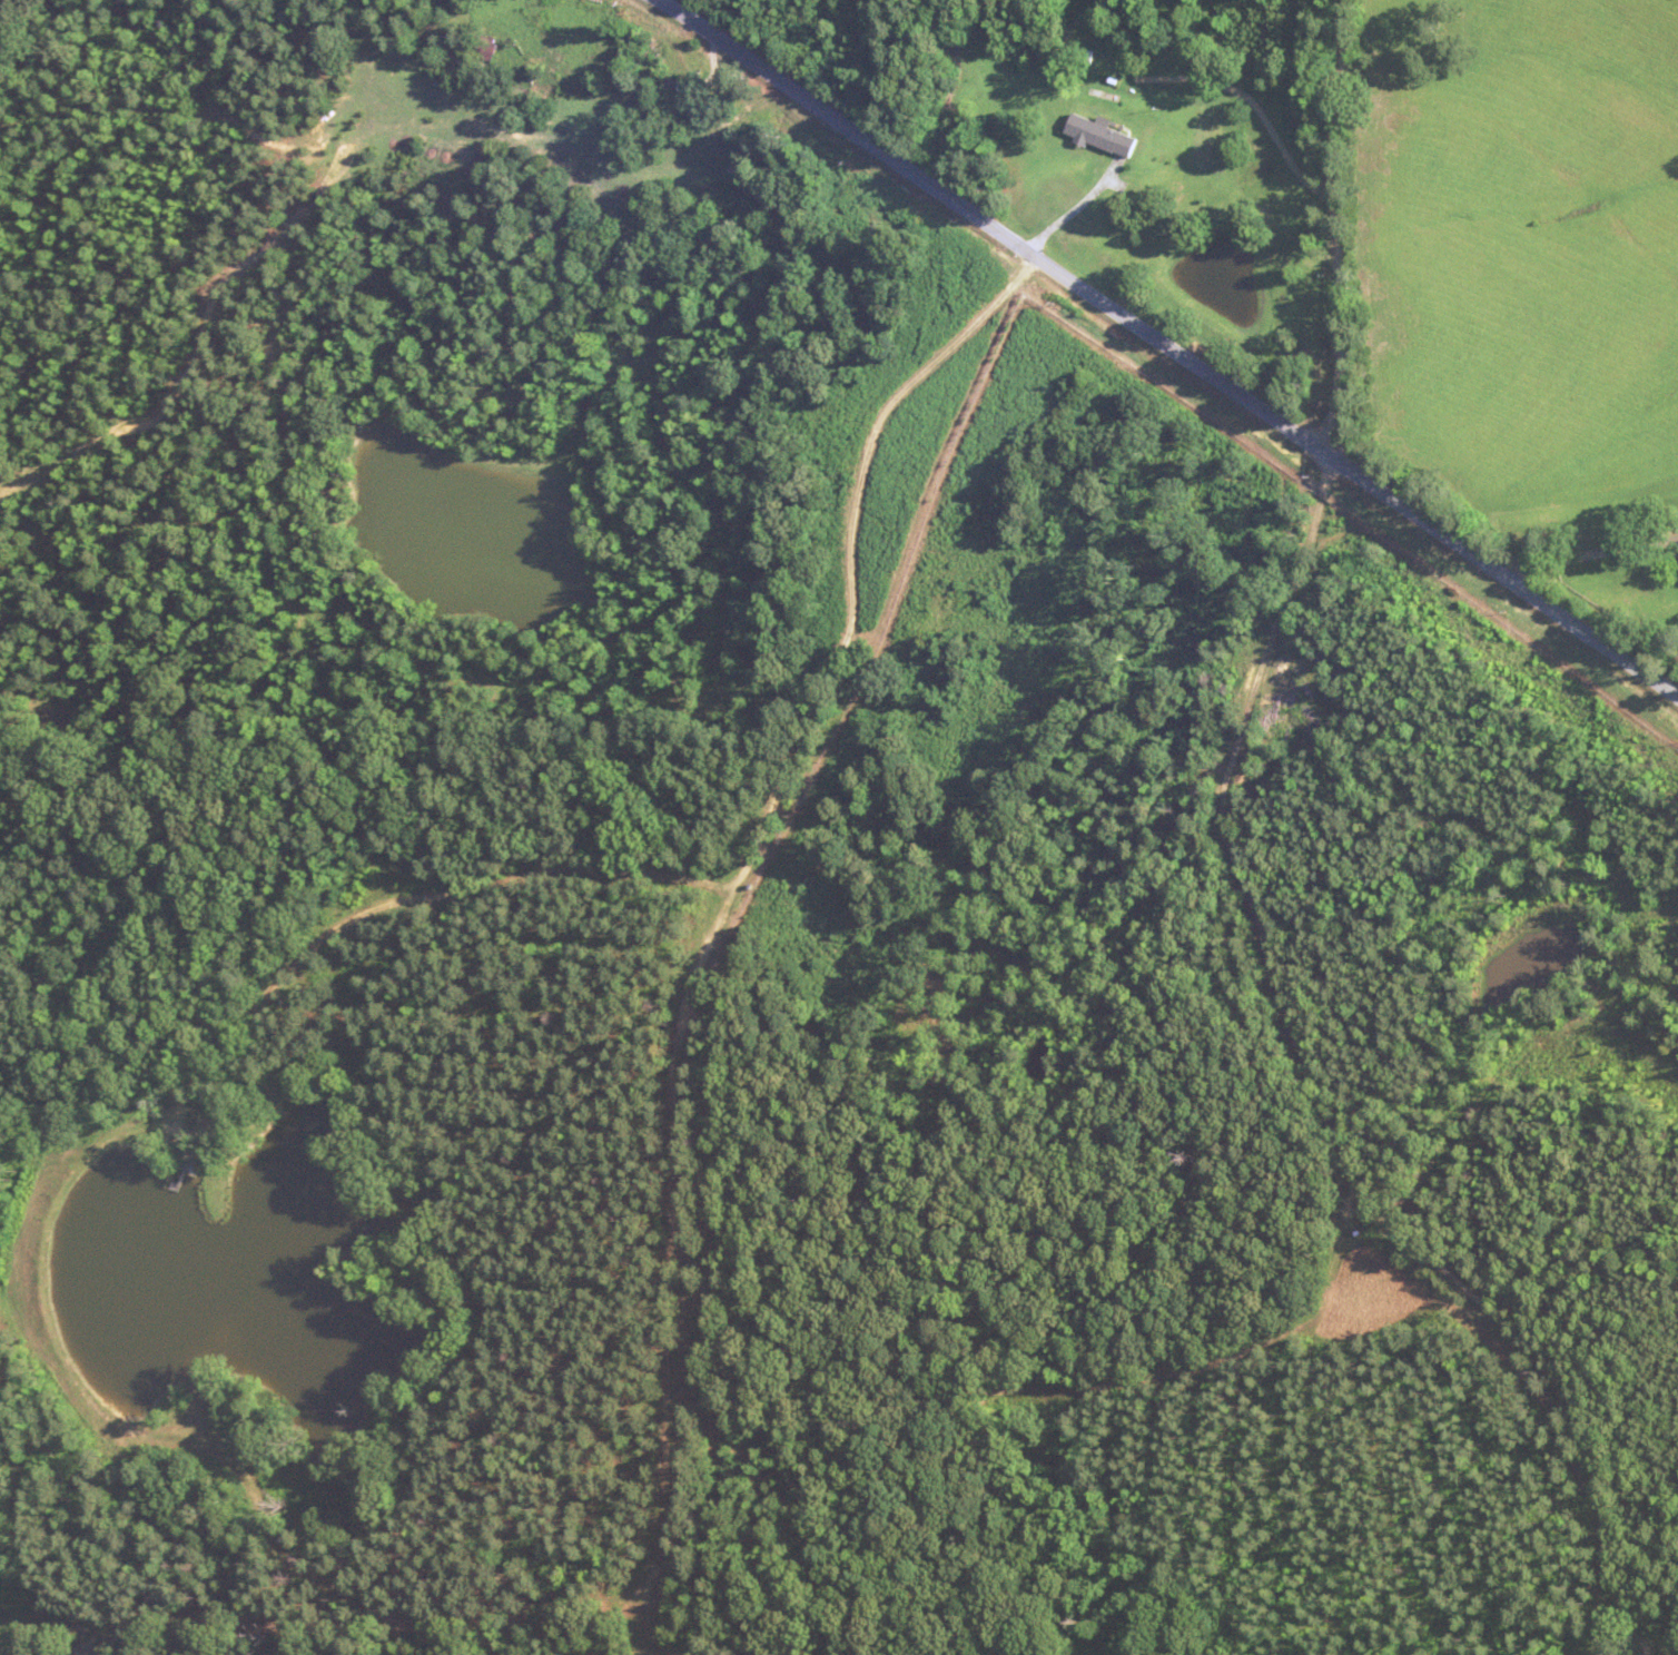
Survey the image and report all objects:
building: (488, 48)
building: (670, 88)
building: (1102, 135)
road: (1339, 225)
road: (1168, 342)
road: (847, 568)
road: (1316, 1085)
building: (574, 1653)

